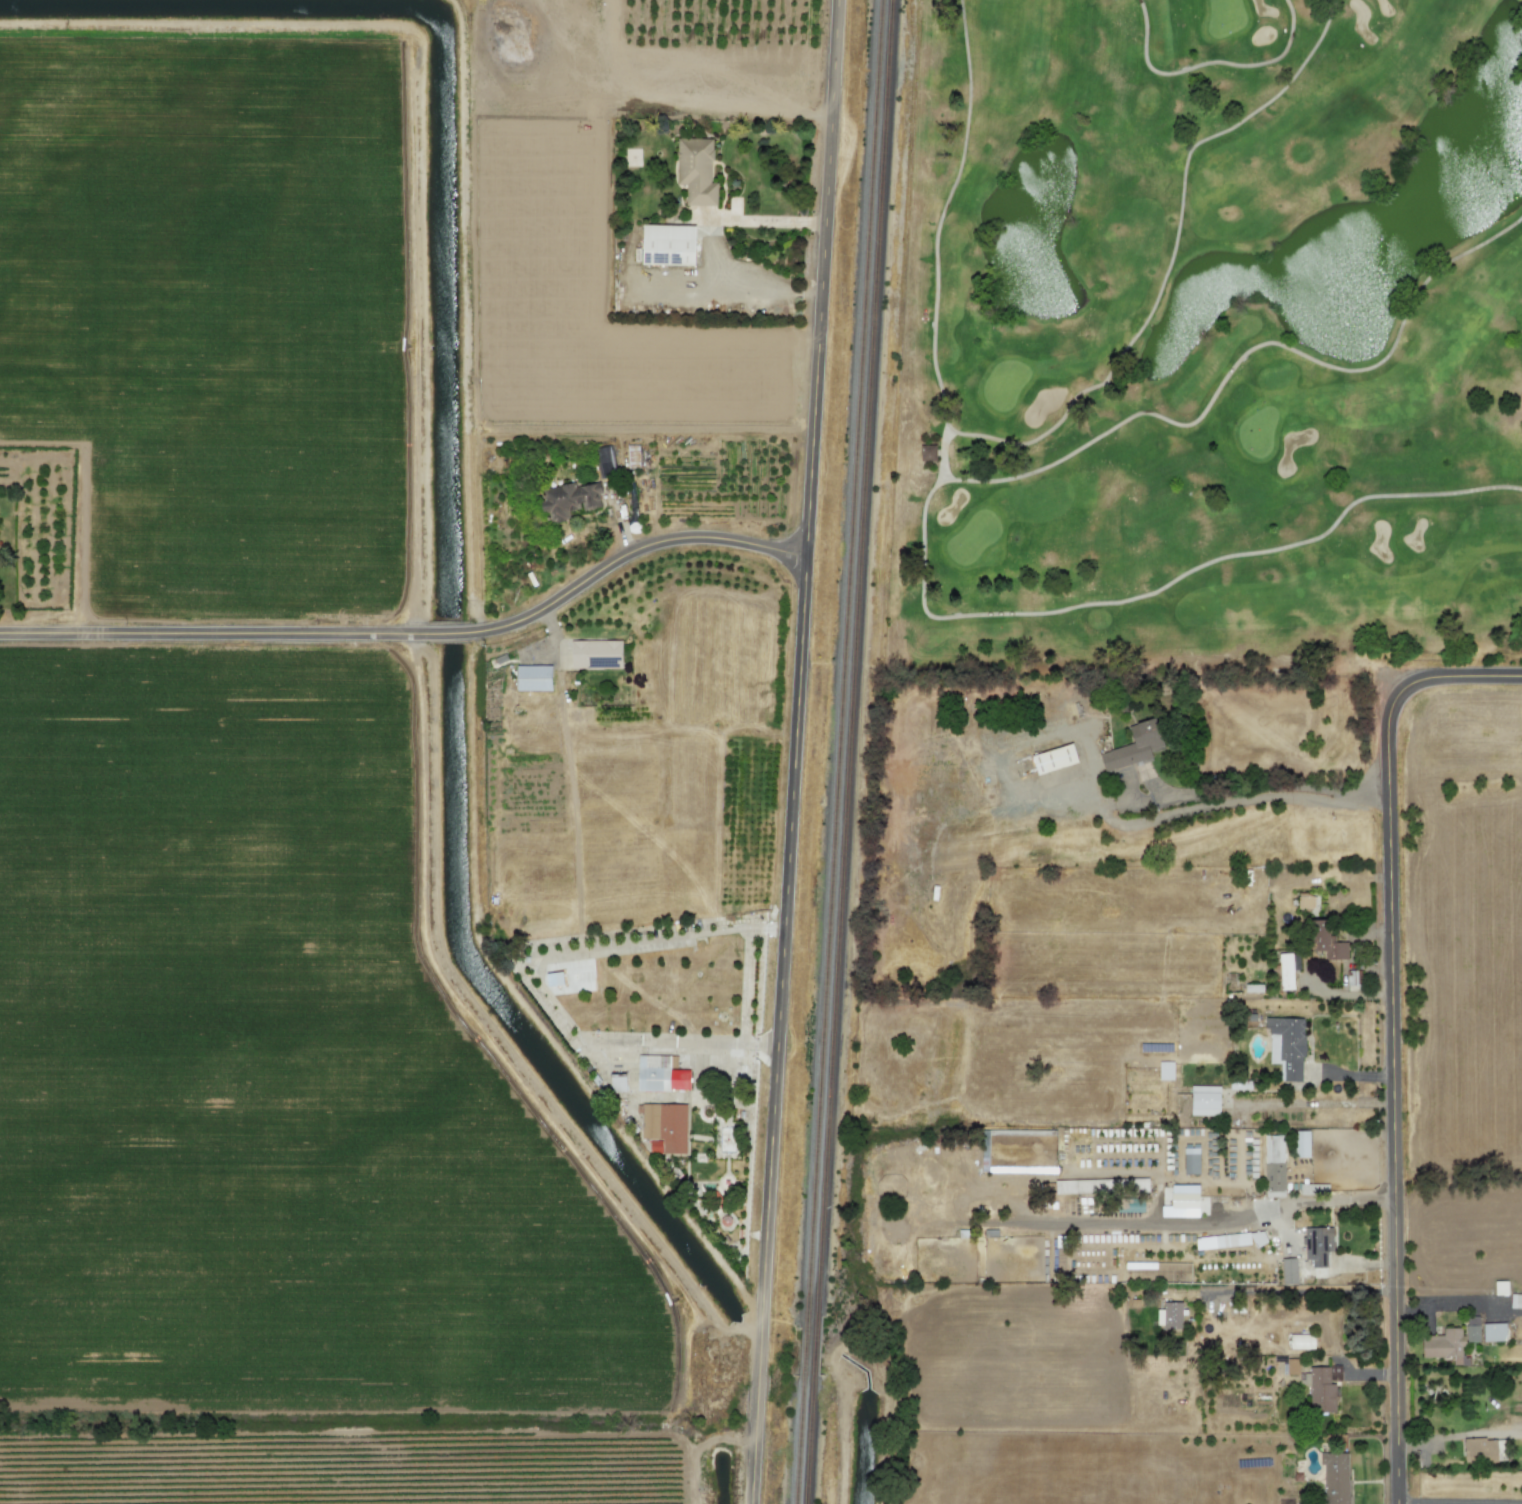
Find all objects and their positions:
building: (696, 171)
road: (762, 220)
building: (667, 245)
road: (721, 290)
road: (811, 292)
park: (1206, 350)
building: (927, 453)
building: (604, 457)
building: (569, 500)
road: (417, 634)
building: (595, 654)
railway: (843, 658)
railway: (856, 658)
road: (1478, 676)
building: (533, 678)
building: (1134, 747)
road: (799, 752)
building: (1054, 759)
road: (1215, 793)
building: (1306, 902)
building: (1327, 945)
building: (1285, 969)
building: (553, 979)
building: (1286, 1046)
building: (1165, 1070)
building: (660, 1074)
road: (1394, 1077)
building: (617, 1084)
building: (1205, 1100)
building: (663, 1127)
building: (1300, 1144)
building: (1190, 1159)
building: (1274, 1165)
building: (1100, 1186)
building: (1313, 1189)
building: (1185, 1202)
road: (1190, 1225)
building: (1231, 1240)
building: (1317, 1245)
road: (1293, 1250)
road: (1387, 1266)
road: (1353, 1268)
building: (1135, 1270)
building: (1288, 1271)
building: (1501, 1288)
road: (1301, 1292)
building: (1515, 1301)
building: (1169, 1315)
building: (1472, 1330)
building: (1493, 1332)
building: (1301, 1341)
railway: (817, 1345)
building: (1445, 1345)
railway: (809, 1346)
building: (1289, 1366)
building: (1321, 1387)
railway: (804, 1439)
railway: (812, 1439)
building: (1480, 1450)
building: (1335, 1478)
road: (1460, 1501)

